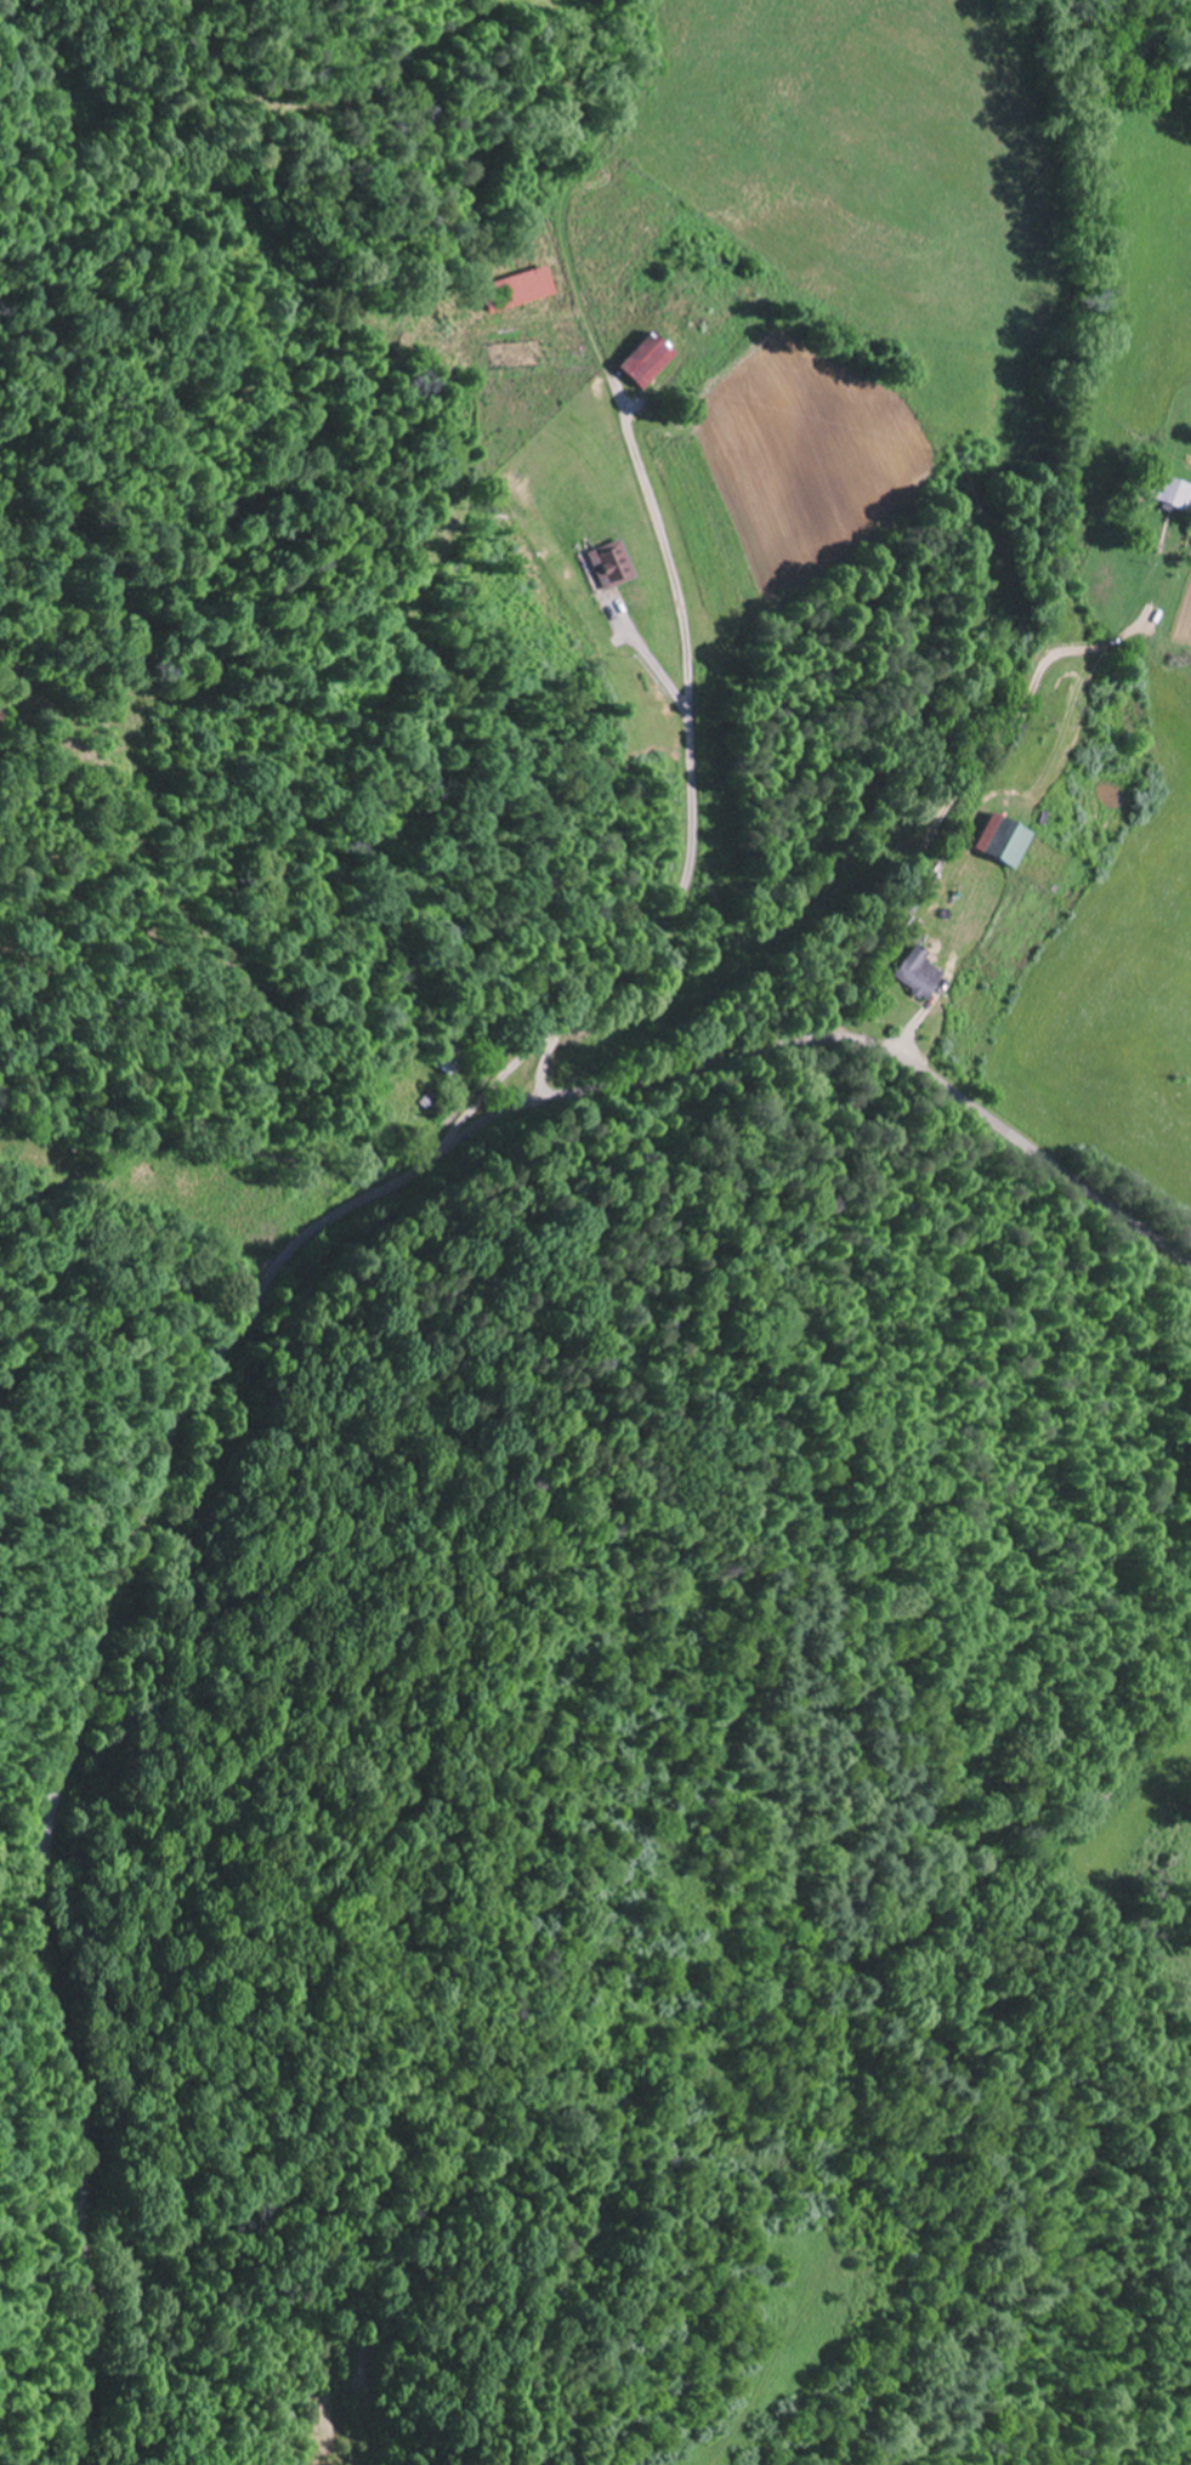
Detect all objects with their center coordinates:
building: (641, 362)
building: (1169, 494)
road: (665, 553)
building: (605, 567)
road: (935, 837)
building: (993, 842)
building: (913, 975)
road: (840, 1038)
road: (244, 1052)
road: (62, 1745)
road: (389, 2397)

